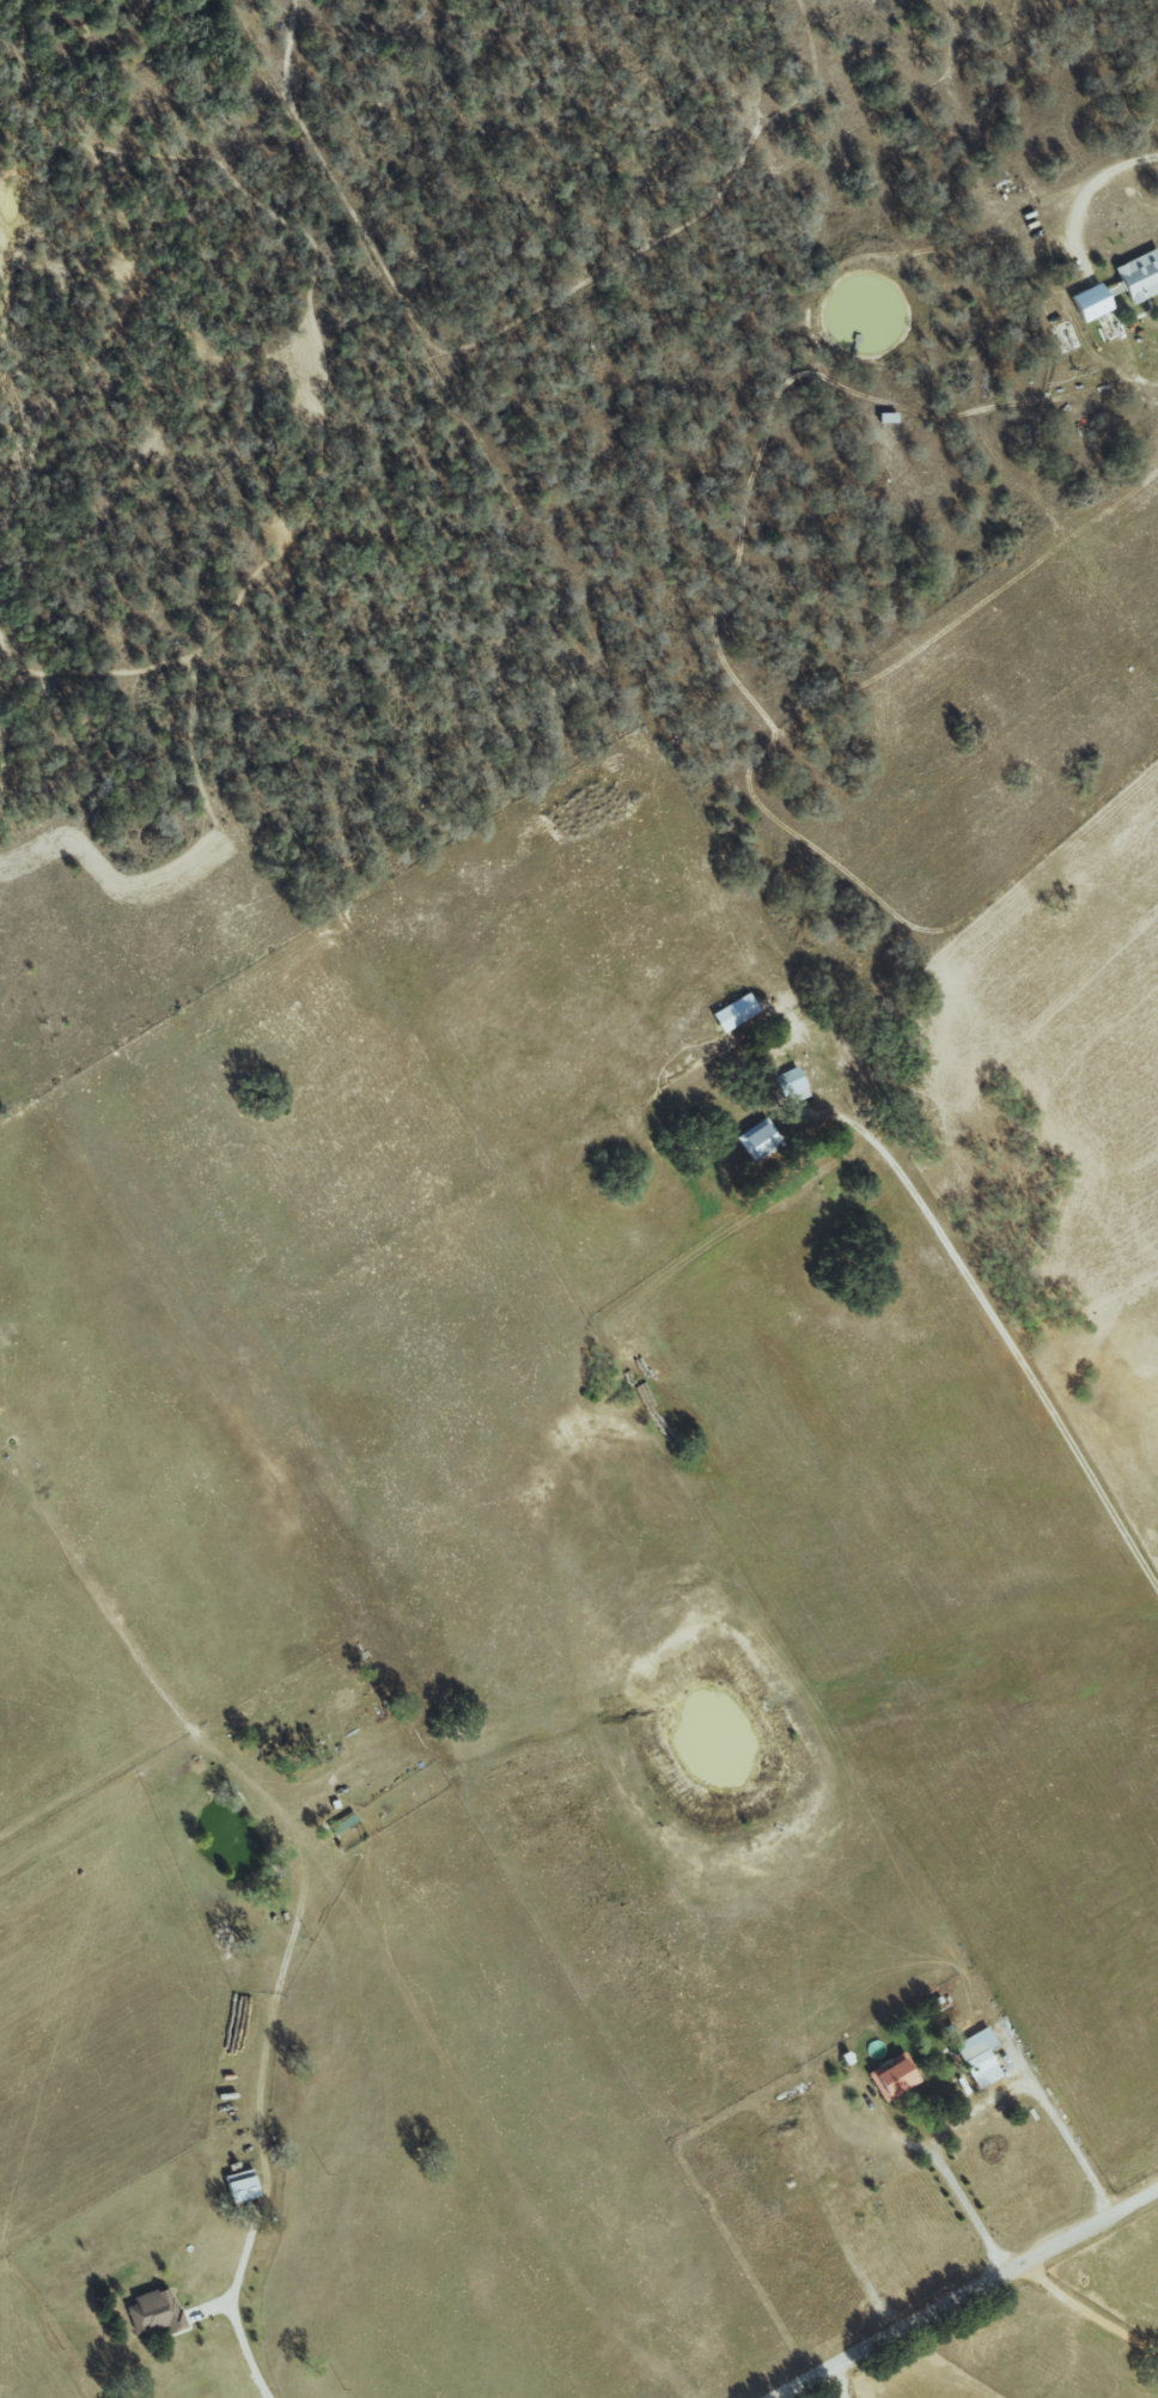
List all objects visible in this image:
road: (1117, 165)
building: (1134, 275)
building: (1081, 303)
building: (725, 1013)
building: (784, 1086)
road: (986, 1323)
building: (969, 2058)
building: (885, 2077)
road: (974, 2118)
road: (263, 2179)
building: (236, 2186)
road: (965, 2300)
road: (1091, 2311)
building: (151, 2312)
road: (840, 2379)

